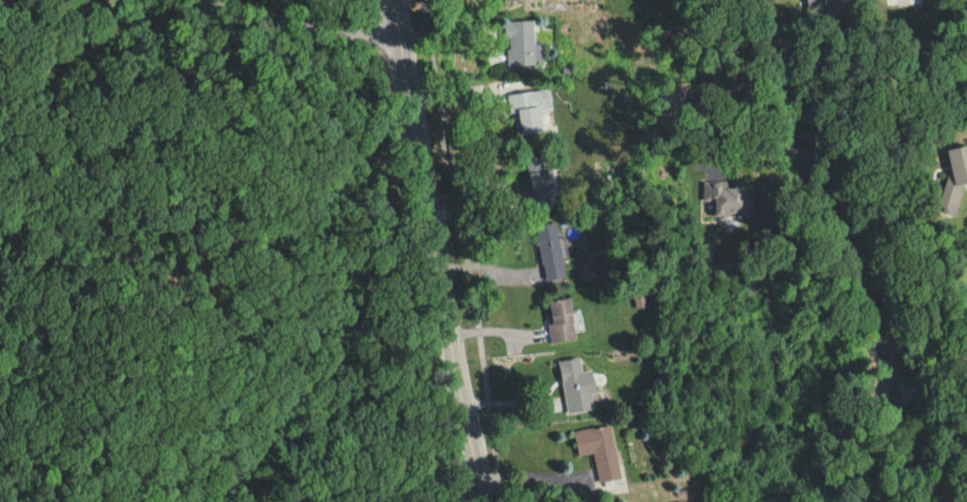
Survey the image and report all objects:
building: (514, 0)
building: (813, 5)
road: (305, 23)
building: (521, 43)
building: (529, 109)
road: (874, 165)
building: (537, 180)
building: (954, 180)
building: (720, 197)
road: (838, 227)
road: (437, 251)
road: (466, 251)
building: (549, 251)
building: (561, 322)
road: (932, 383)
building: (577, 386)
road: (390, 435)
building: (599, 450)

